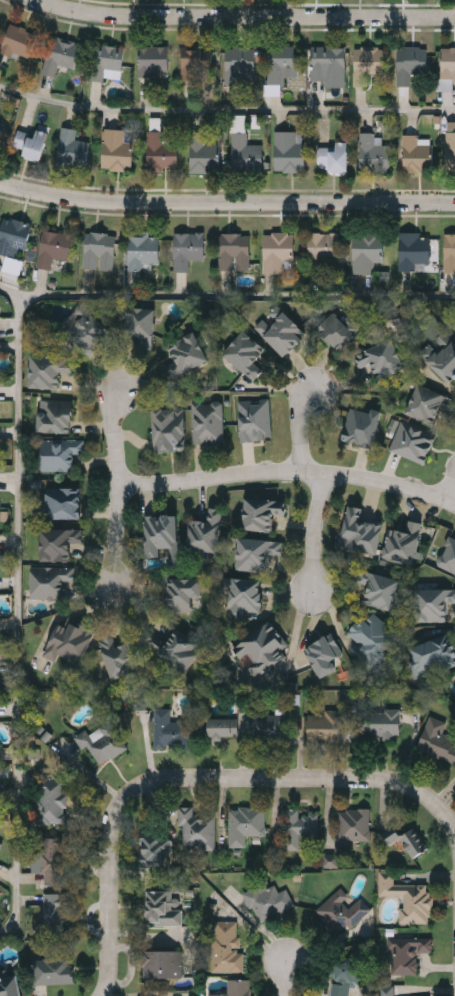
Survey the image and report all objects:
road: (246, 17)
building: (16, 40)
building: (59, 55)
building: (152, 60)
building: (194, 61)
building: (107, 62)
building: (324, 62)
building: (368, 63)
building: (410, 63)
building: (281, 64)
building: (447, 64)
building: (239, 66)
road: (226, 109)
building: (1, 127)
building: (31, 143)
building: (450, 145)
building: (71, 148)
building: (116, 149)
building: (288, 150)
building: (160, 151)
building: (374, 151)
building: (244, 153)
building: (416, 153)
building: (202, 154)
building: (333, 156)
road: (226, 203)
building: (13, 234)
building: (53, 247)
building: (322, 248)
building: (186, 249)
building: (413, 249)
building: (99, 250)
building: (233, 250)
building: (142, 251)
building: (278, 251)
building: (366, 251)
building: (449, 251)
building: (13, 265)
road: (239, 293)
building: (138, 324)
building: (279, 330)
building: (338, 330)
building: (87, 331)
building: (185, 354)
building: (245, 354)
building: (382, 358)
building: (444, 361)
building: (49, 368)
building: (429, 404)
building: (55, 416)
building: (255, 420)
building: (206, 422)
building: (360, 426)
road: (300, 427)
building: (168, 429)
building: (413, 442)
building: (59, 453)
road: (291, 470)
road: (448, 484)
road: (122, 485)
building: (61, 502)
building: (261, 513)
building: (204, 531)
building: (359, 531)
road: (315, 534)
building: (161, 536)
building: (404, 542)
building: (57, 543)
building: (255, 552)
building: (447, 555)
building: (48, 581)
building: (378, 589)
building: (182, 593)
building: (243, 597)
road: (16, 601)
building: (433, 603)
building: (373, 635)
building: (69, 643)
road: (295, 645)
building: (174, 648)
building: (261, 649)
building: (323, 654)
building: (432, 655)
building: (119, 658)
building: (381, 724)
building: (325, 727)
building: (222, 728)
building: (268, 728)
building: (170, 730)
building: (110, 737)
building: (436, 739)
road: (195, 778)
building: (52, 799)
building: (245, 823)
building: (353, 825)
building: (298, 827)
building: (196, 828)
building: (391, 835)
building: (0, 841)
building: (413, 842)
building: (153, 850)
building: (51, 857)
building: (331, 860)
building: (406, 896)
building: (266, 899)
building: (160, 907)
building: (341, 910)
building: (55, 914)
building: (225, 945)
building: (405, 952)
building: (161, 963)
building: (54, 970)
building: (342, 977)
road: (288, 979)
building: (9, 986)
building: (233, 988)
building: (386, 991)

